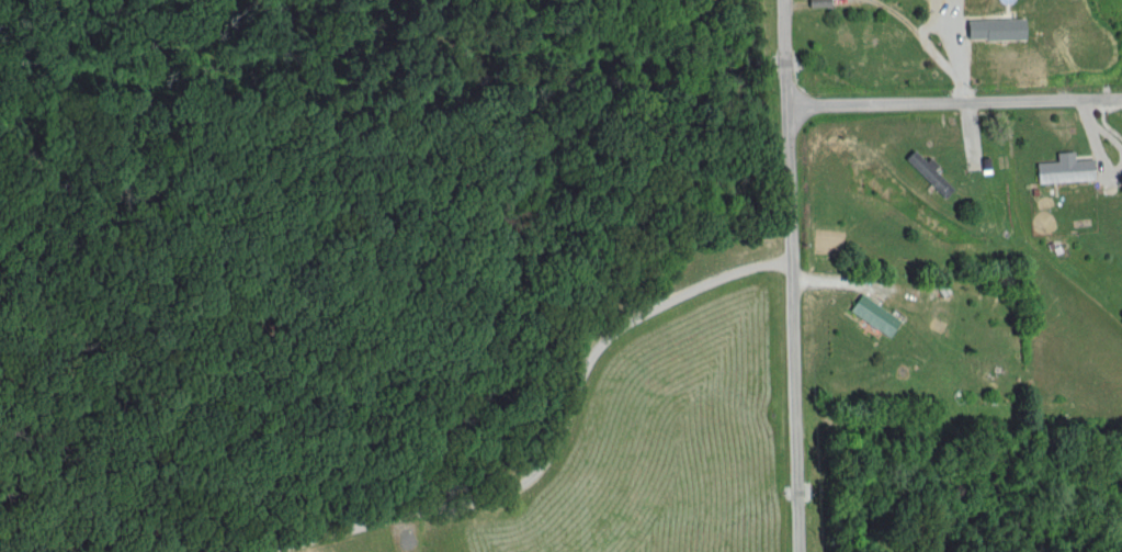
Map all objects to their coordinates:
building: (961, 4)
road: (948, 100)
building: (1063, 171)
building: (928, 174)
road: (789, 275)
building: (872, 316)

